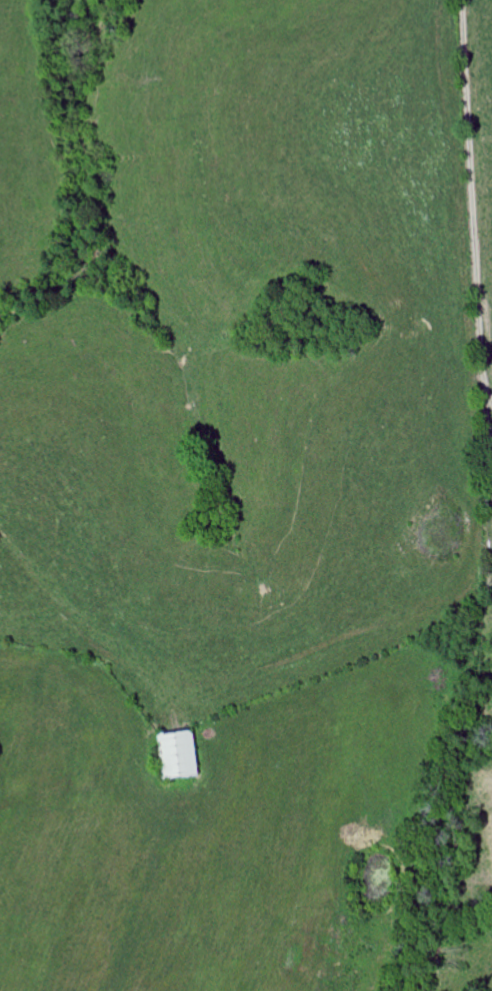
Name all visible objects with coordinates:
road: (472, 203)
building: (182, 755)

